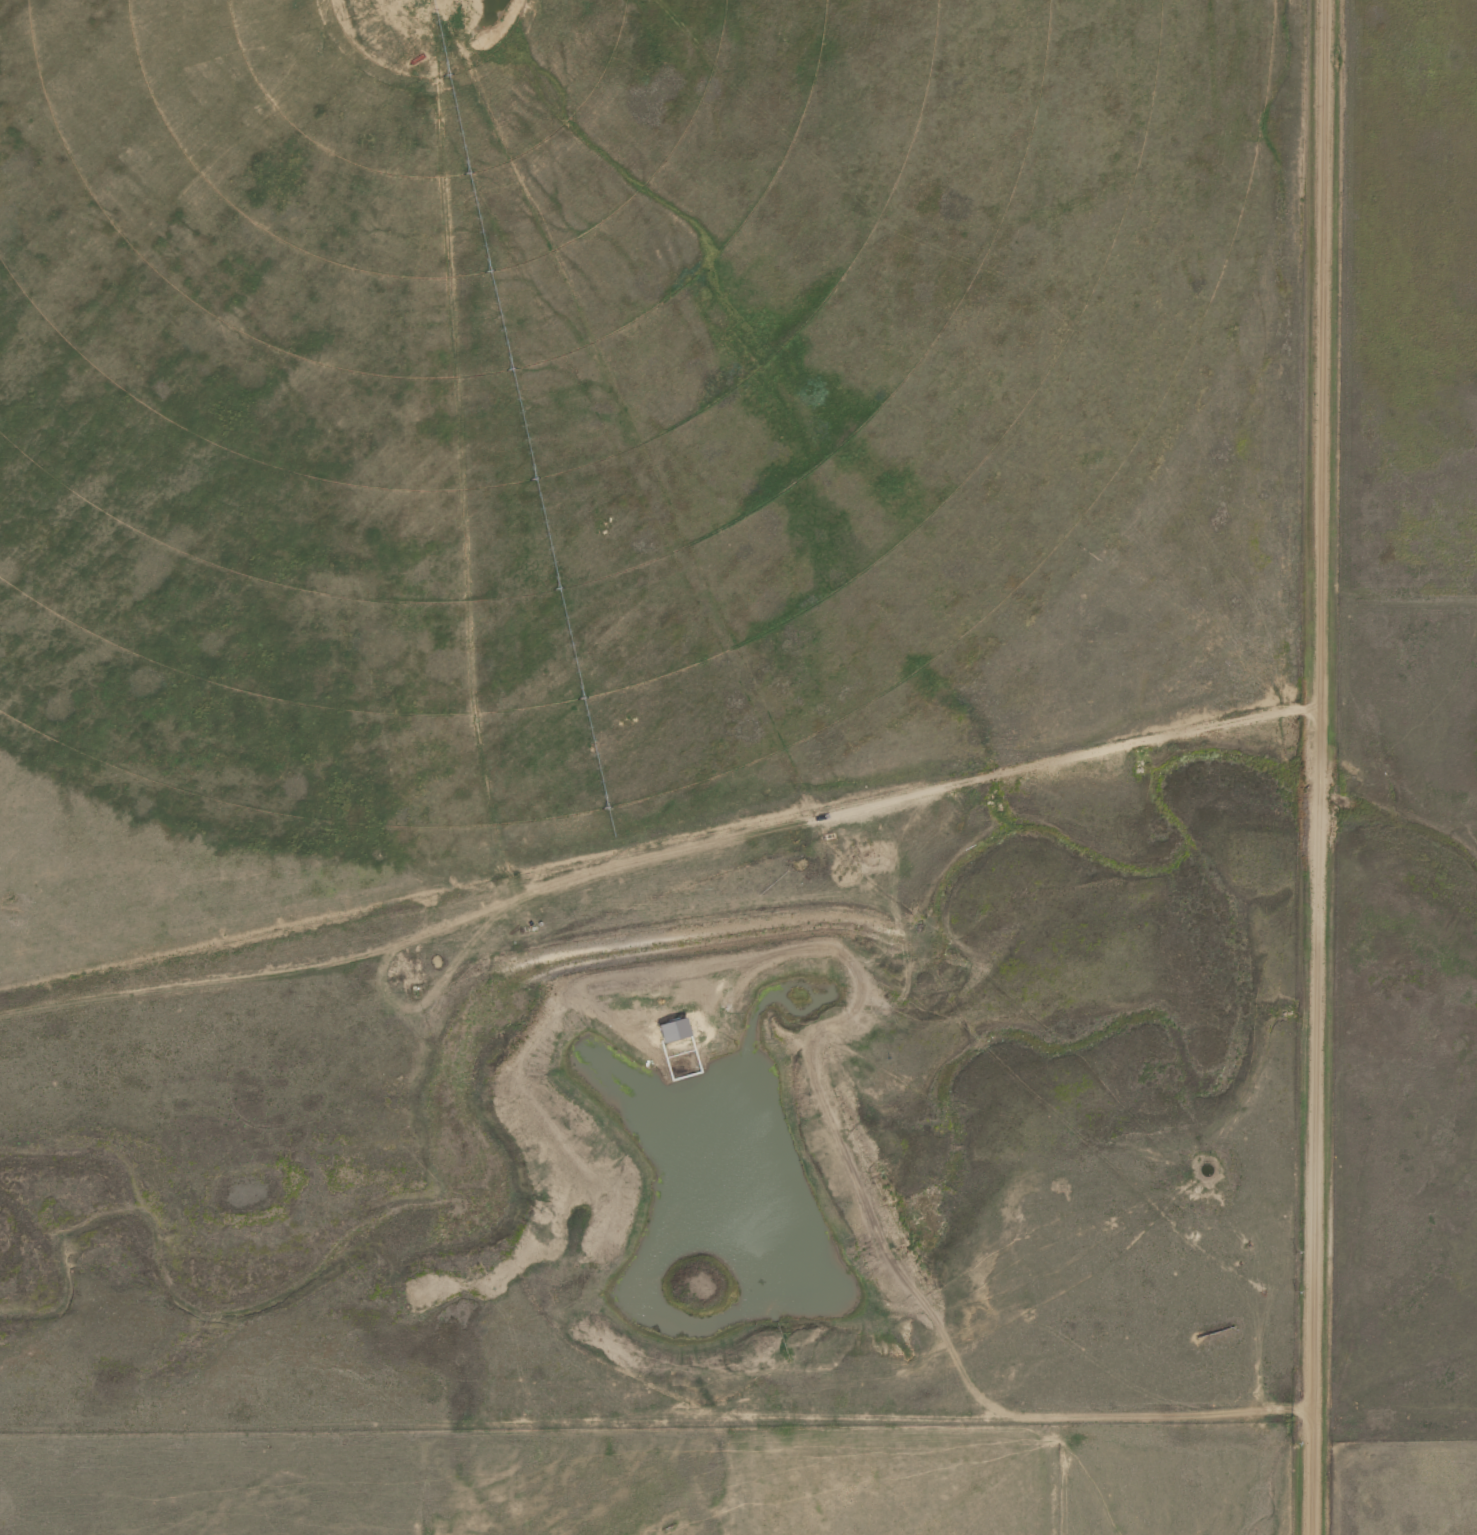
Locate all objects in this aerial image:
road: (1324, 767)

